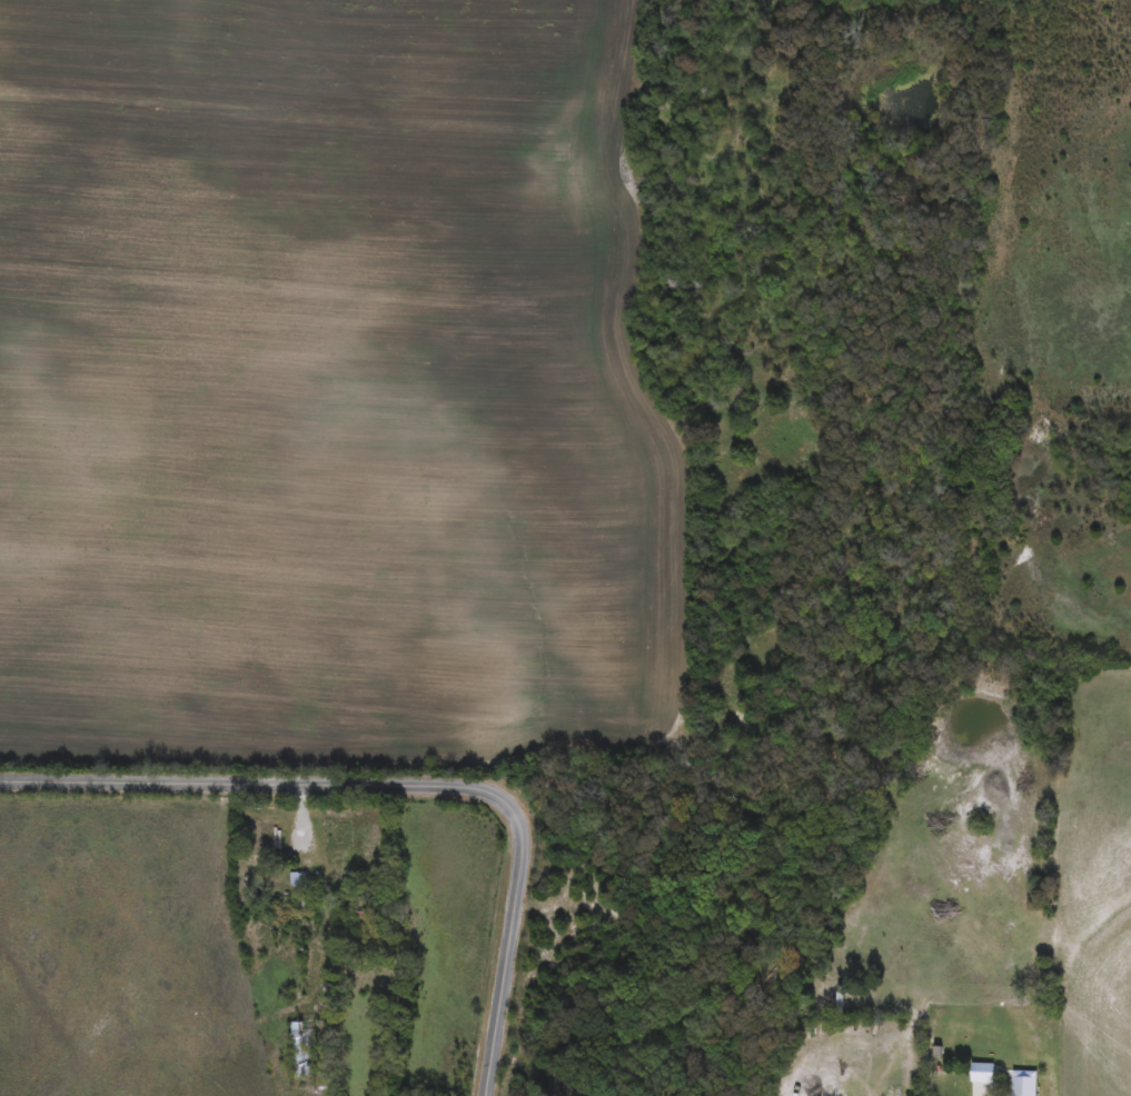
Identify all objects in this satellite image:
road: (407, 773)
building: (262, 836)
building: (297, 880)
building: (300, 1053)
building: (1021, 1084)

